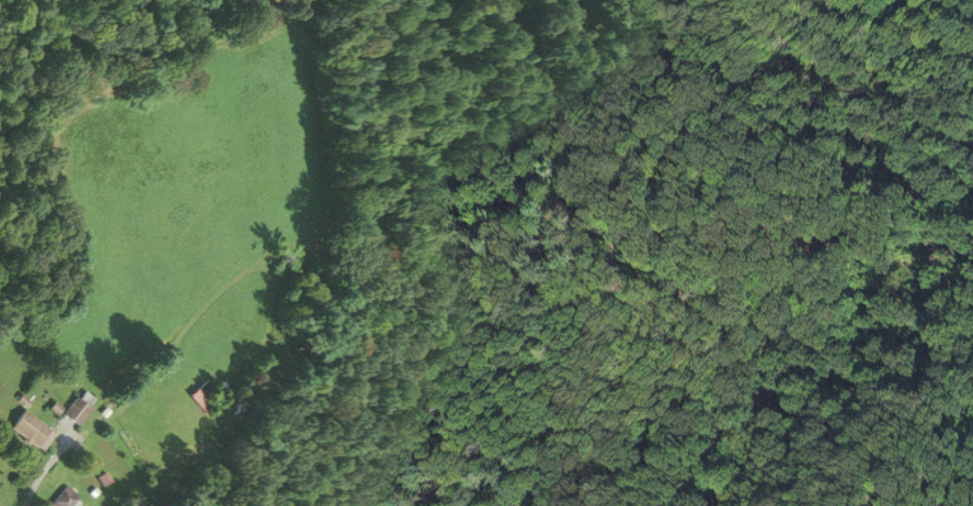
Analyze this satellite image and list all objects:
building: (202, 394)
building: (79, 406)
road: (85, 428)
building: (30, 429)
building: (65, 498)

